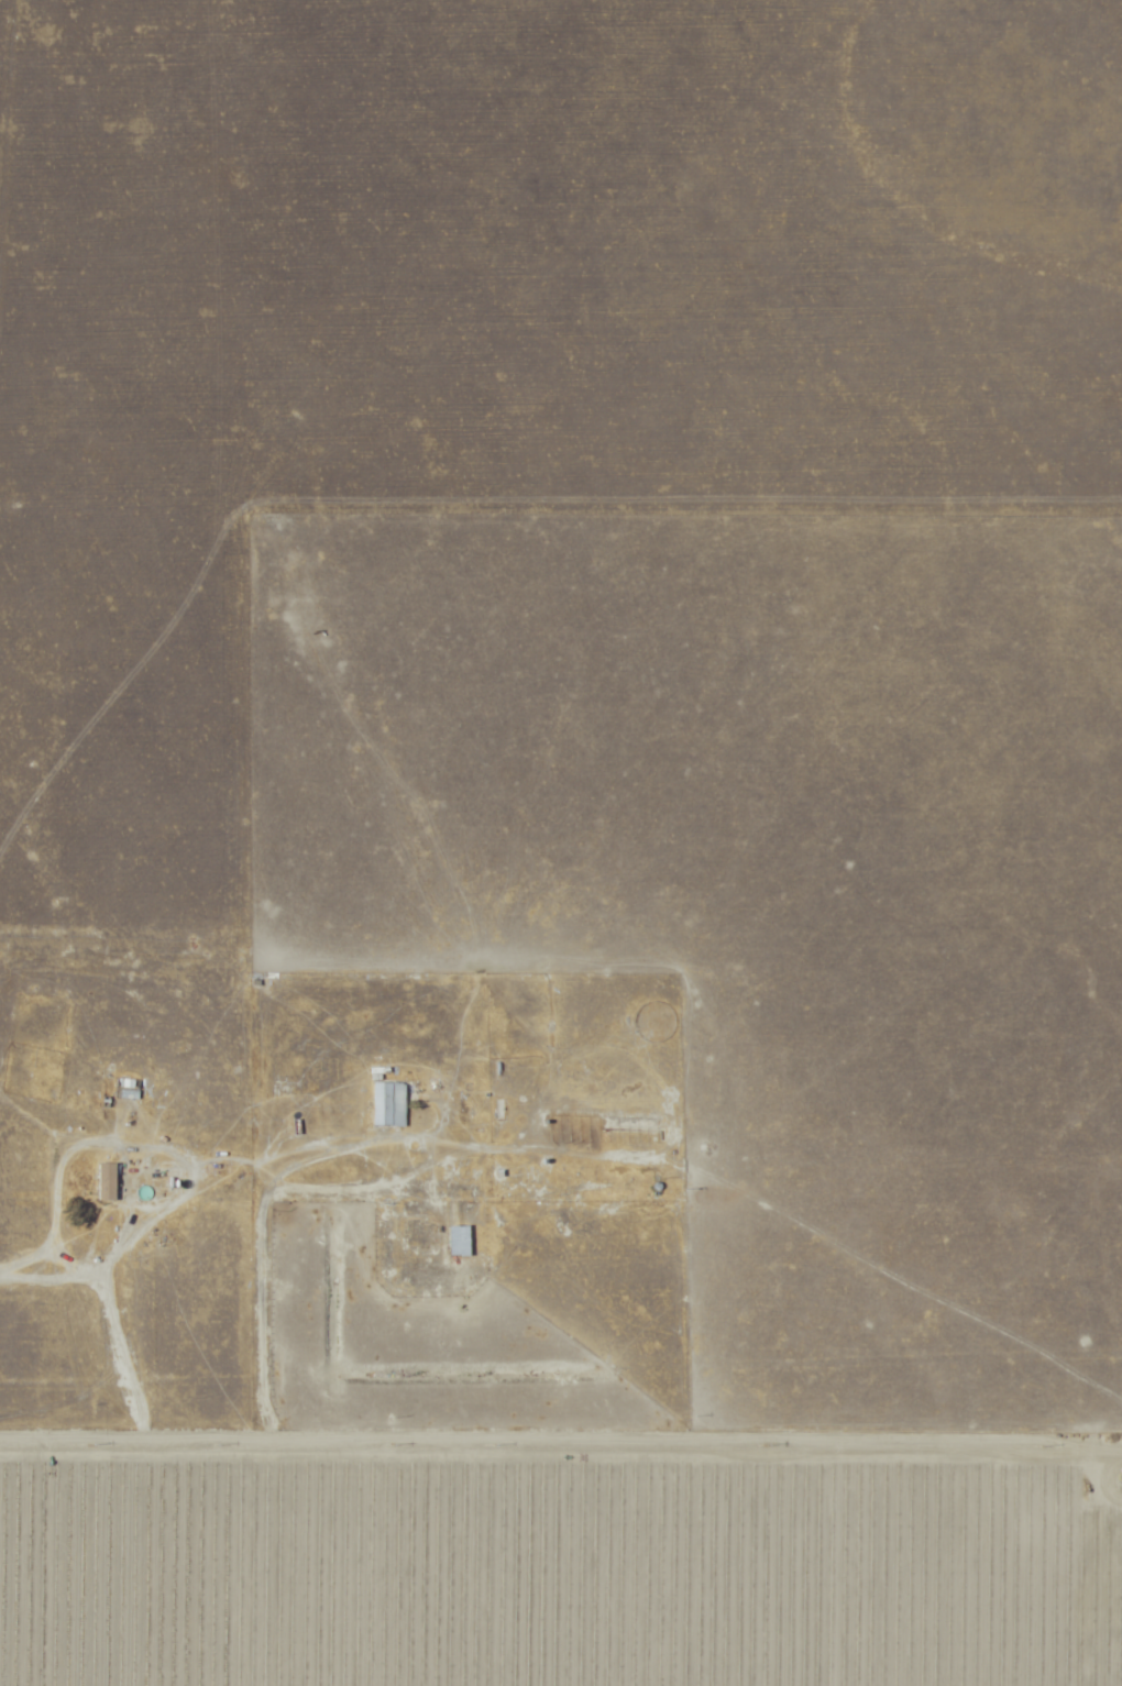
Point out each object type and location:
building: (385, 1103)
building: (103, 1181)
building: (457, 1241)
crop: (564, 1562)

